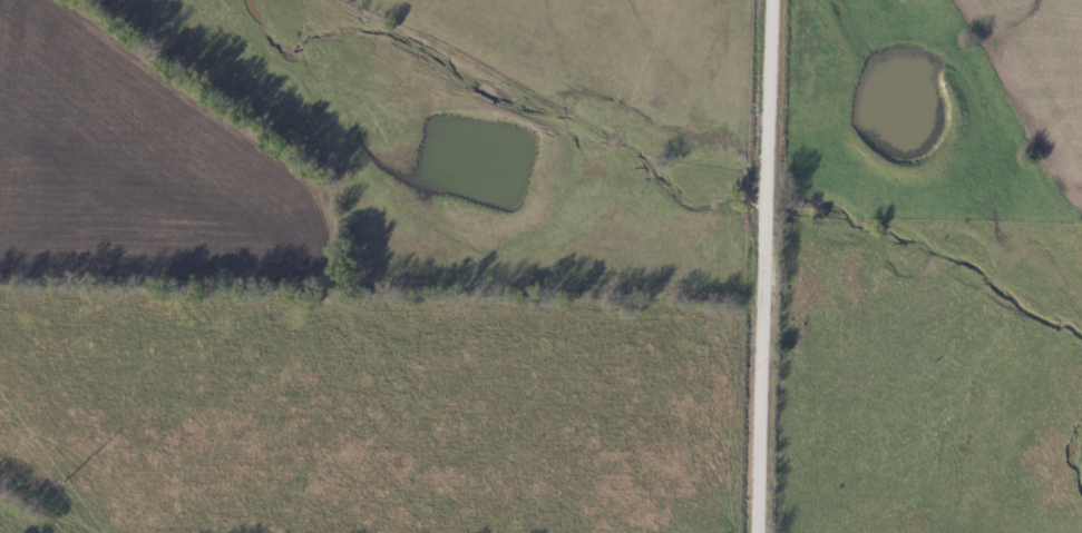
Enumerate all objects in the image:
road: (753, 266)

